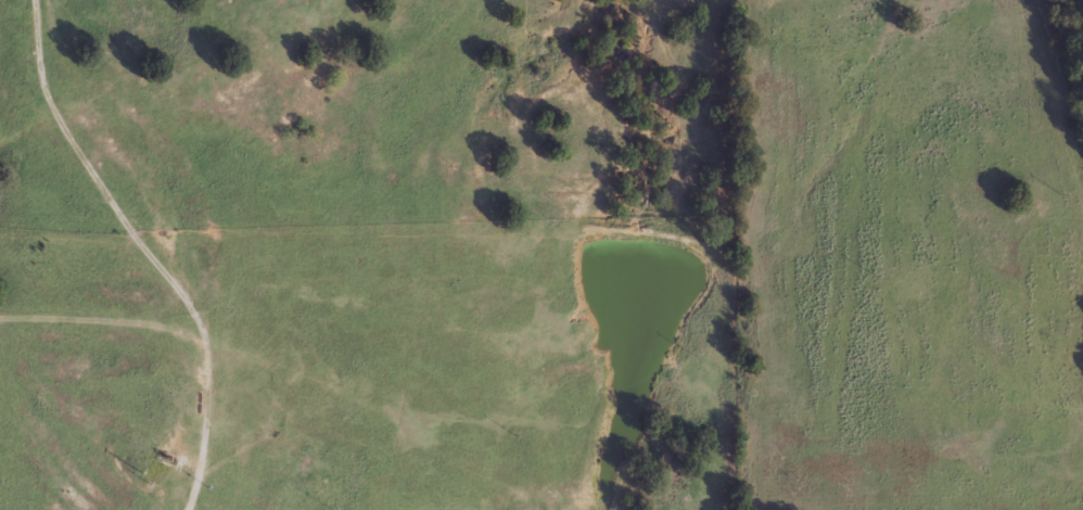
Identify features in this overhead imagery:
road: (202, 487)

